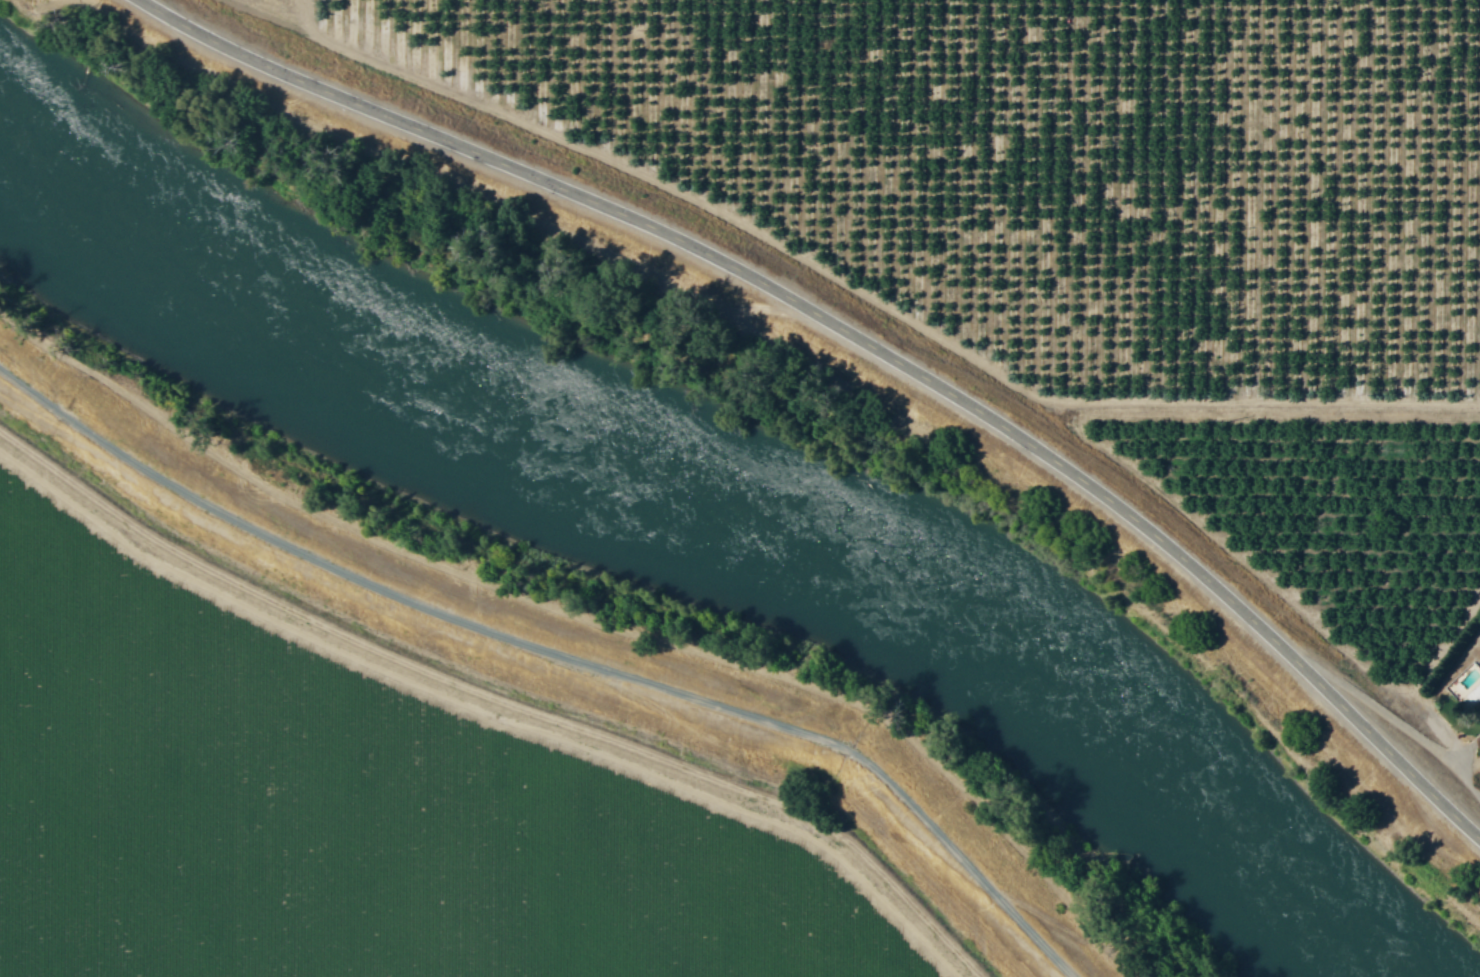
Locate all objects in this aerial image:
road: (861, 339)
river: (719, 511)
road: (554, 645)

